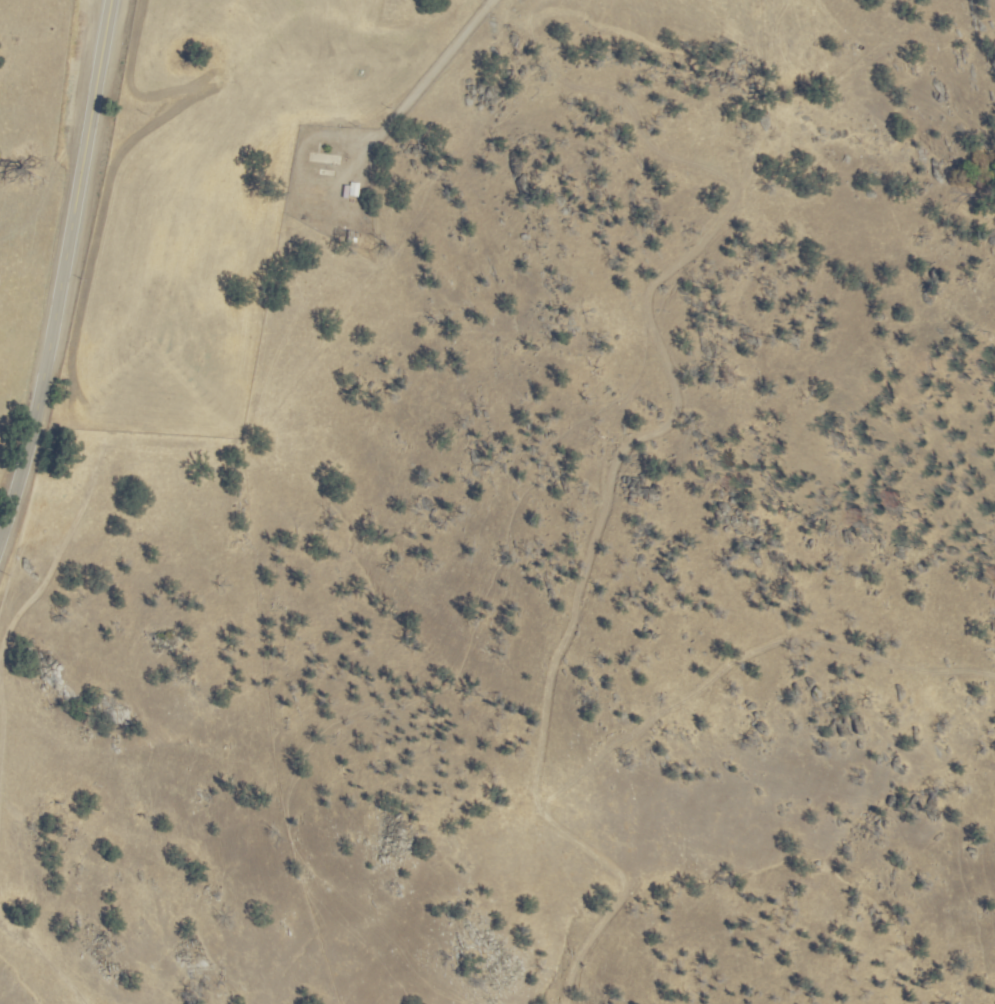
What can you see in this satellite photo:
crop: (687, 18)
road: (423, 87)
building: (358, 184)
crop: (145, 227)
road: (61, 282)

